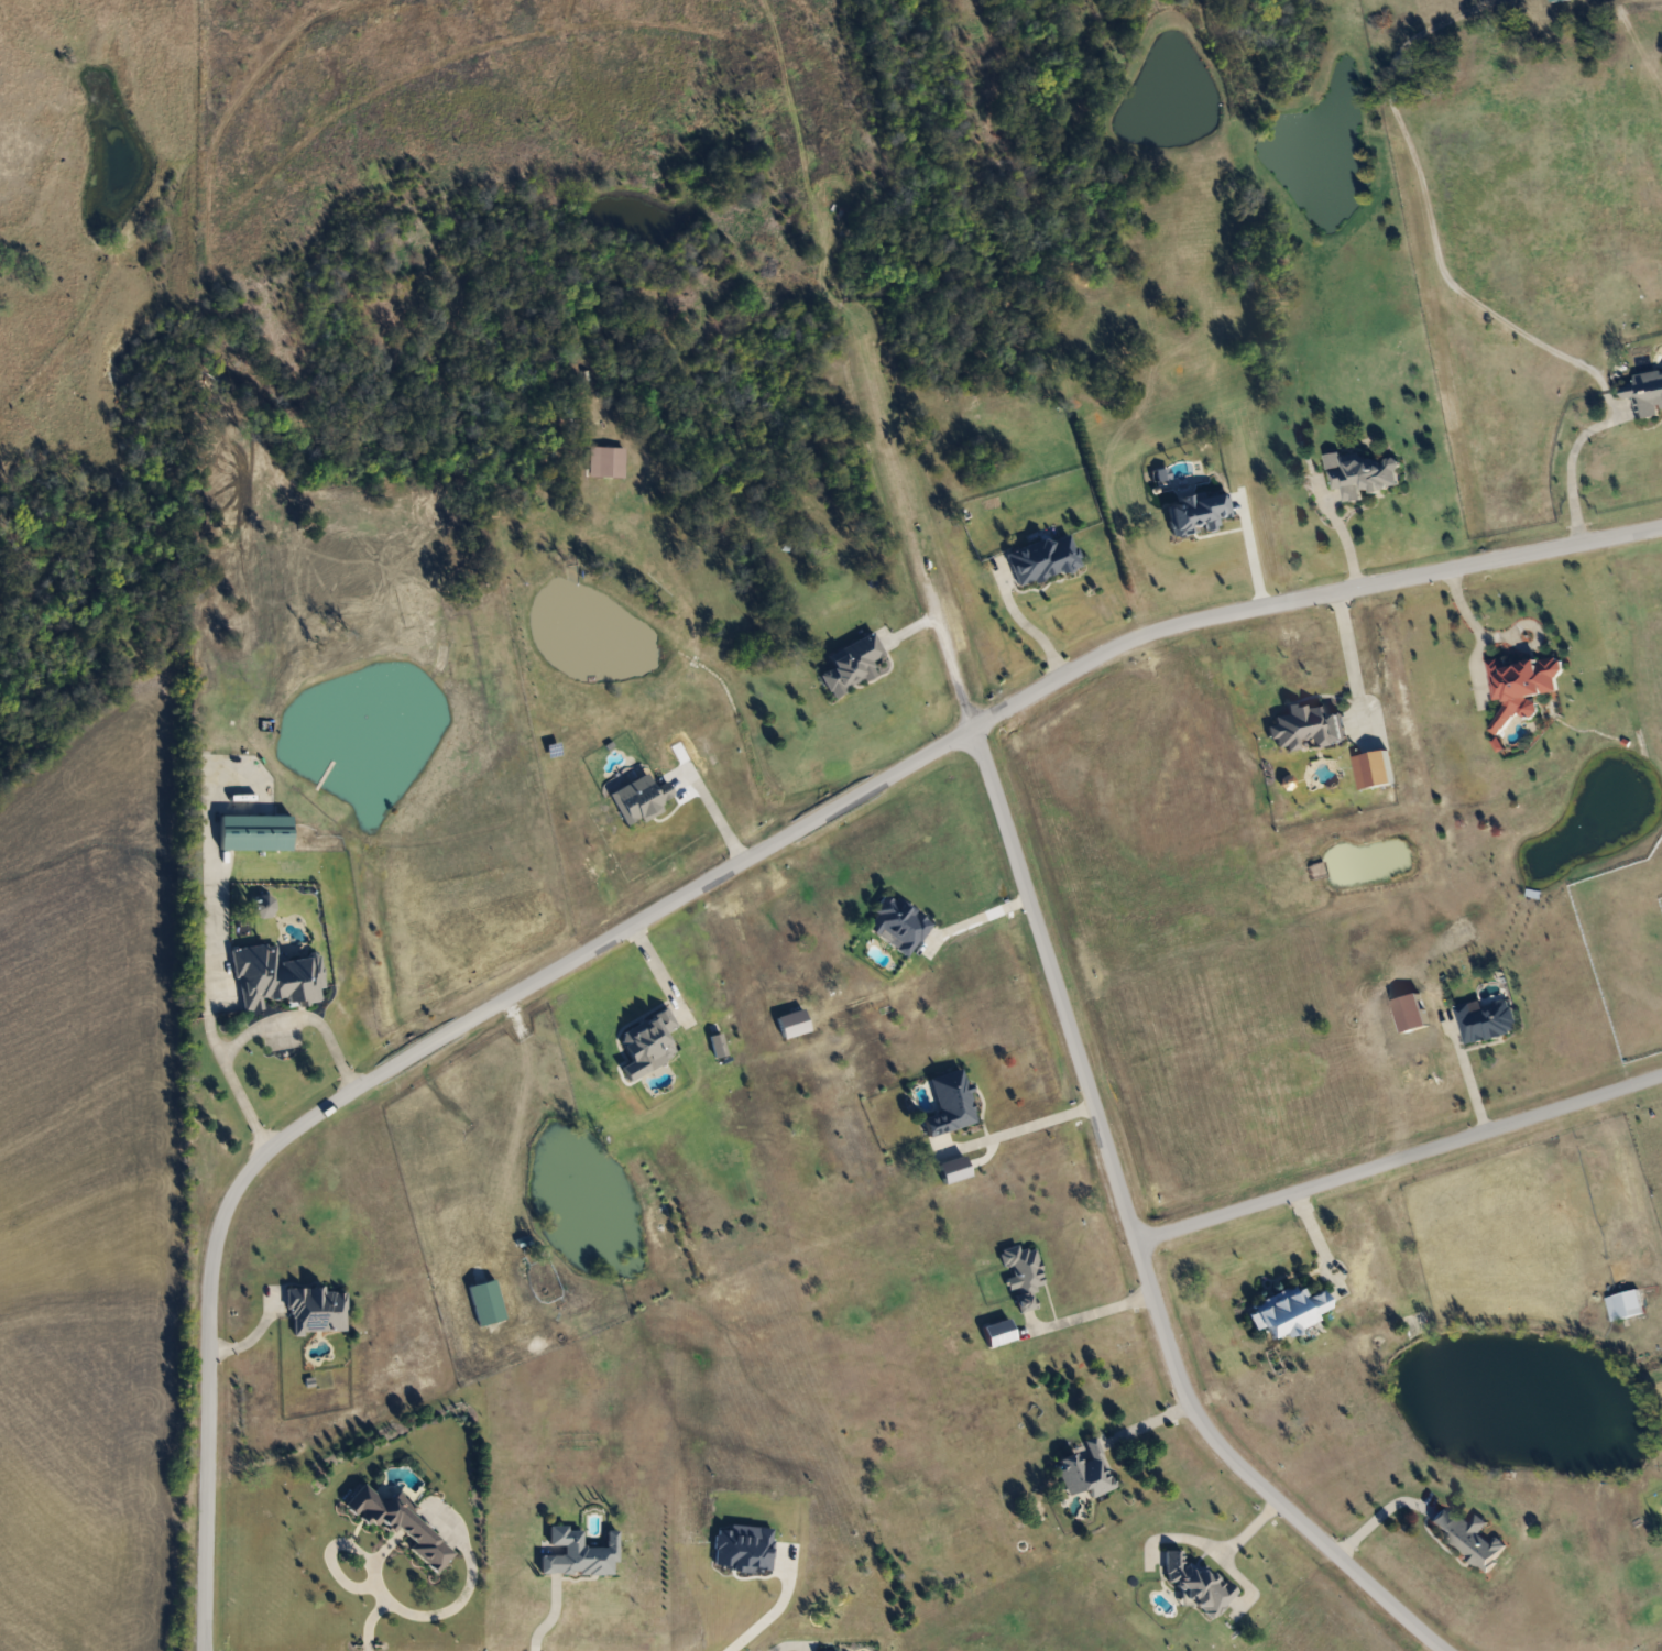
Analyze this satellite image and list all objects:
building: (1553, 0)
building: (1645, 392)
building: (605, 461)
road: (1571, 461)
building: (1363, 475)
road: (1347, 537)
building: (1042, 558)
road: (914, 625)
road: (1030, 626)
road: (1345, 658)
building: (851, 664)
road: (951, 666)
building: (1520, 686)
building: (1308, 725)
building: (638, 798)
building: (253, 832)
road: (1023, 886)
road: (972, 919)
building: (898, 922)
road: (650, 966)
building: (274, 976)
building: (1485, 1021)
road: (255, 1028)
building: (647, 1038)
building: (717, 1045)
road: (391, 1058)
road: (1466, 1080)
building: (949, 1103)
road: (1028, 1120)
road: (1398, 1156)
crop: (97, 1179)
road: (1316, 1239)
building: (1020, 1273)
building: (1623, 1304)
building: (316, 1309)
road: (1082, 1310)
building: (1286, 1311)
building: (997, 1332)
building: (1084, 1468)
road: (1369, 1512)
building: (393, 1519)
building: (1466, 1535)
road: (1203, 1542)
building: (577, 1552)
building: (1196, 1584)
road: (369, 1604)
road: (778, 1608)
road: (551, 1616)

